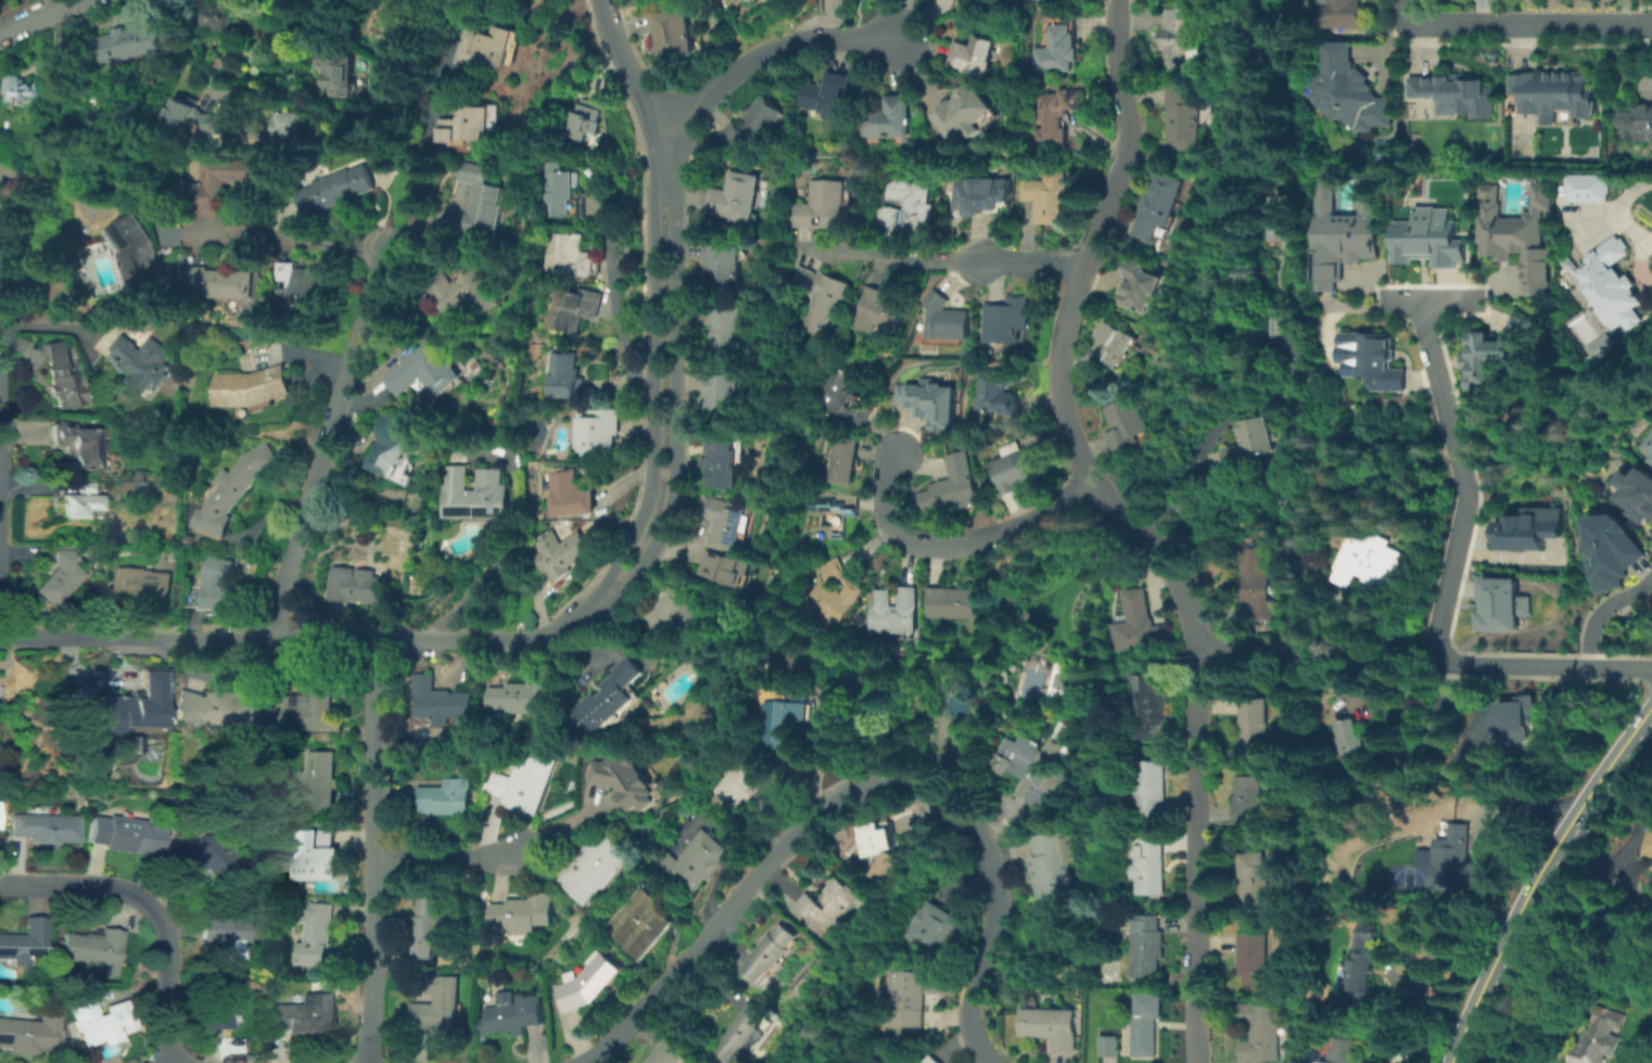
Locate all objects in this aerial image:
building: (950, 0)
building: (499, 1)
building: (1345, 12)
road: (1402, 12)
road: (36, 16)
building: (215, 18)
road: (1529, 24)
building: (672, 34)
building: (1177, 38)
road: (183, 44)
building: (495, 46)
building: (129, 47)
road: (766, 49)
building: (1055, 50)
building: (973, 56)
road: (621, 62)
building: (217, 65)
building: (342, 73)
building: (23, 86)
building: (1351, 86)
building: (1553, 89)
building: (1456, 90)
building: (828, 95)
building: (967, 110)
building: (1054, 115)
road: (1122, 116)
building: (188, 118)
building: (585, 119)
building: (888, 119)
building: (1179, 120)
building: (1642, 124)
building: (750, 125)
building: (468, 127)
building: (287, 131)
road: (660, 150)
road: (59, 179)
building: (1587, 184)
building: (333, 190)
building: (982, 190)
building: (558, 192)
building: (206, 194)
building: (1046, 195)
building: (734, 197)
building: (485, 204)
building: (906, 204)
road: (1616, 205)
building: (818, 206)
building: (1153, 206)
building: (1282, 221)
building: (1345, 228)
building: (1515, 231)
building: (1424, 236)
road: (260, 238)
road: (1645, 242)
building: (137, 252)
road: (886, 254)
building: (567, 256)
road: (1027, 261)
road: (1639, 264)
building: (720, 267)
building: (220, 282)
building: (1611, 282)
building: (1138, 285)
building: (301, 286)
building: (461, 293)
road: (614, 298)
building: (817, 298)
road: (1432, 298)
building: (573, 309)
building: (875, 311)
building: (943, 319)
building: (1005, 319)
building: (1281, 322)
road: (65, 324)
building: (165, 326)
building: (724, 331)
building: (1603, 342)
building: (1111, 344)
building: (1495, 351)
building: (1367, 359)
building: (140, 363)
building: (423, 373)
building: (564, 375)
building: (65, 377)
building: (251, 387)
road: (650, 393)
building: (994, 393)
building: (721, 394)
building: (839, 398)
road: (672, 400)
building: (925, 401)
building: (1121, 424)
building: (595, 432)
road: (323, 441)
building: (1247, 443)
building: (1651, 444)
building: (76, 445)
building: (393, 445)
building: (1650, 459)
building: (720, 461)
building: (841, 461)
building: (1015, 468)
road: (1191, 470)
road: (1463, 479)
building: (952, 487)
building: (233, 488)
building: (1638, 490)
building: (474, 496)
building: (569, 496)
building: (81, 501)
building: (836, 513)
building: (721, 522)
building: (1532, 529)
building: (186, 540)
road: (506, 540)
road: (951, 541)
building: (559, 553)
building: (1614, 553)
building: (1363, 560)
building: (725, 565)
building: (58, 578)
building: (1255, 579)
building: (216, 582)
building: (143, 584)
building: (355, 587)
building: (831, 592)
building: (953, 603)
road: (1602, 609)
building: (1498, 610)
building: (673, 611)
building: (893, 612)
road: (1186, 620)
road: (567, 622)
building: (1142, 627)
road: (264, 638)
road: (1232, 646)
road: (1349, 653)
road: (1539, 665)
building: (1057, 680)
building: (8, 688)
building: (528, 697)
building: (609, 699)
building: (441, 704)
building: (141, 707)
building: (308, 707)
building: (1149, 708)
building: (220, 712)
building: (1518, 714)
building: (779, 721)
building: (1254, 723)
road: (1645, 730)
building: (1349, 745)
building: (1029, 766)
building: (625, 778)
building: (318, 781)
building: (737, 782)
road: (850, 786)
building: (525, 787)
building: (1147, 790)
building: (445, 797)
building: (1248, 801)
building: (1064, 825)
building: (46, 829)
building: (129, 835)
building: (1649, 846)
building: (1447, 849)
road: (370, 850)
building: (205, 856)
building: (310, 858)
road: (443, 858)
building: (885, 860)
building: (692, 862)
building: (1148, 866)
building: (593, 870)
building: (1051, 870)
road: (1538, 878)
building: (1253, 881)
road: (1589, 902)
building: (827, 906)
road: (151, 909)
building: (521, 912)
building: (427, 926)
building: (644, 926)
building: (931, 928)
building: (314, 934)
building: (225, 939)
building: (24, 943)
building: (1147, 946)
building: (93, 950)
building: (767, 953)
building: (1253, 959)
building: (1360, 962)
building: (585, 983)
building: (908, 999)
building: (437, 1004)
building: (216, 1006)
building: (512, 1014)
building: (306, 1015)
building: (102, 1023)
building: (1050, 1026)
building: (1143, 1027)
building: (739, 1032)
building: (30, 1034)
building: (1262, 1035)
building: (1598, 1037)
building: (1406, 1042)
building: (1111, 1045)
building: (1339, 1051)
building: (669, 1053)
building: (931, 1060)

